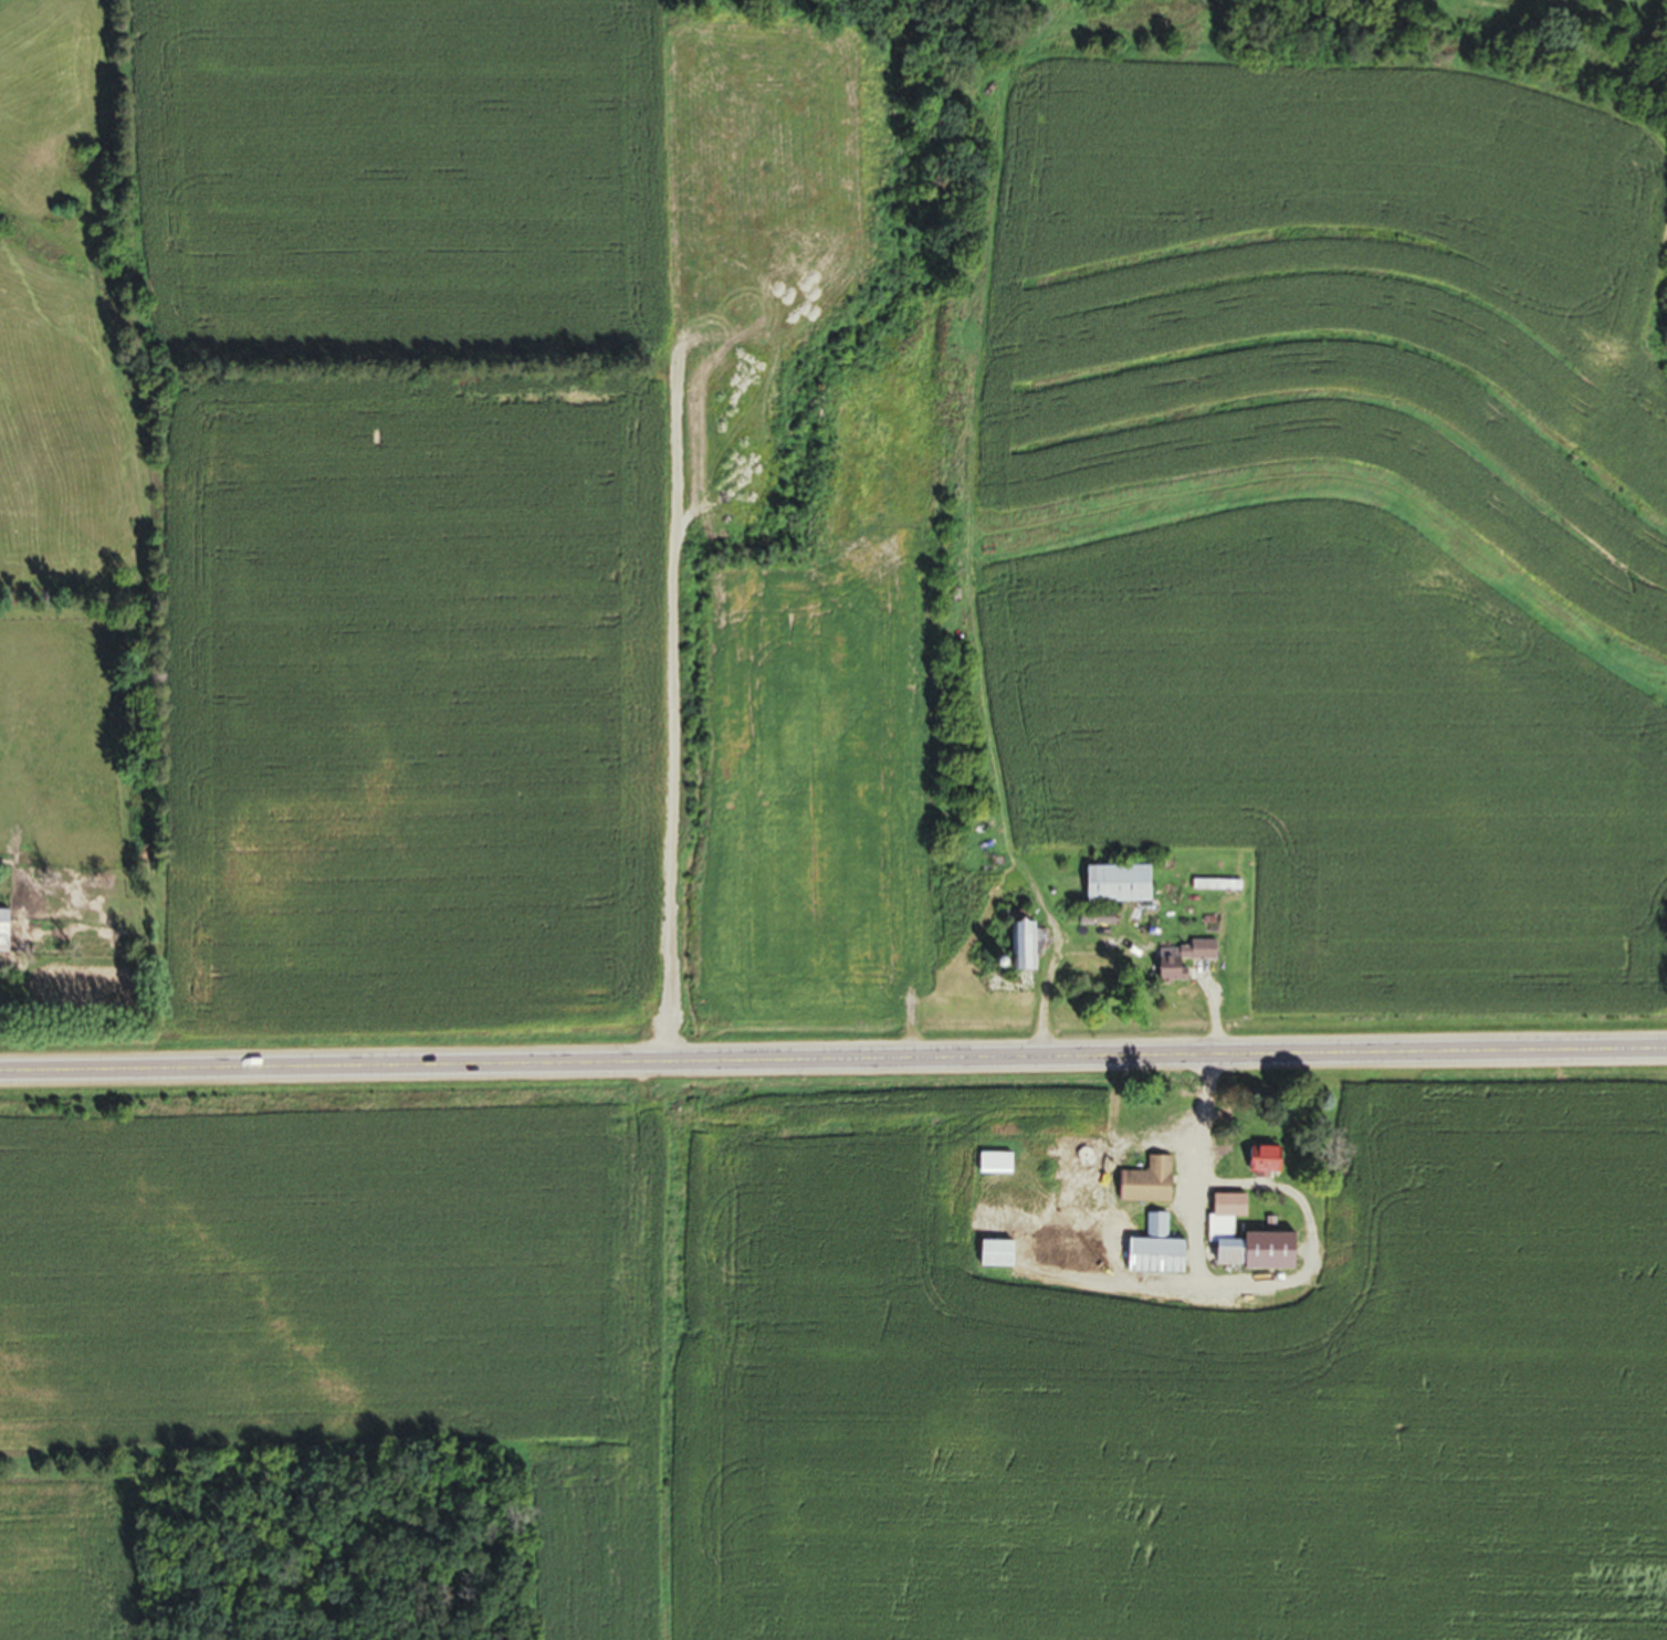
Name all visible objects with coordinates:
building: (1111, 890)
building: (1092, 924)
building: (1, 935)
building: (1018, 948)
building: (1177, 961)
road: (832, 1061)
building: (1257, 1165)
building: (989, 1169)
building: (1094, 1191)
building: (1340, 1229)
building: (1222, 1233)
building: (1145, 1255)
building: (990, 1260)

